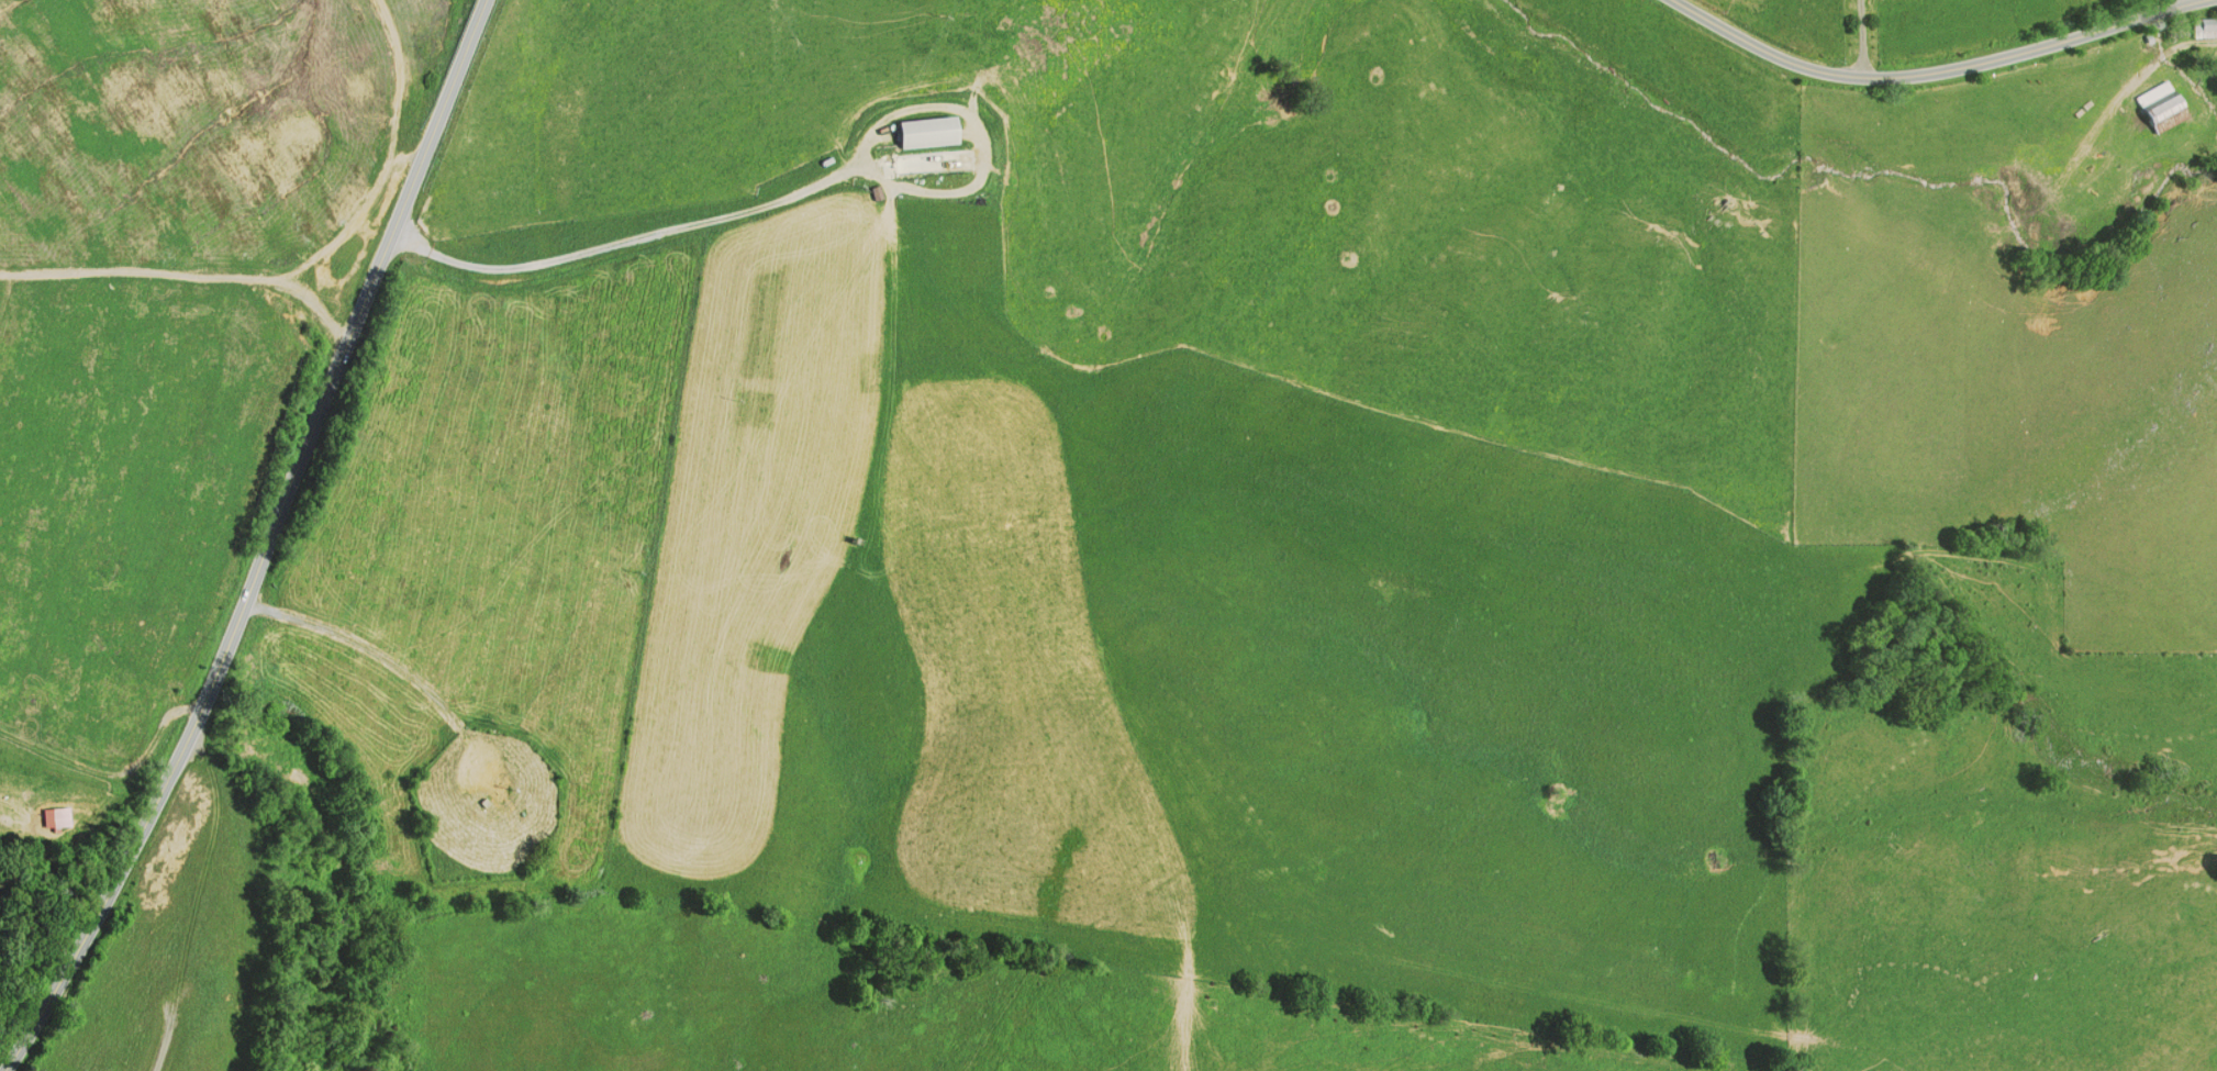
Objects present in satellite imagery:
road: (2179, 2)
building: (2199, 29)
road: (1940, 70)
building: (2158, 112)
building: (926, 131)
road: (628, 239)
building: (903, 304)
road: (267, 547)
road: (107, 801)
building: (55, 814)
road: (164, 1045)

